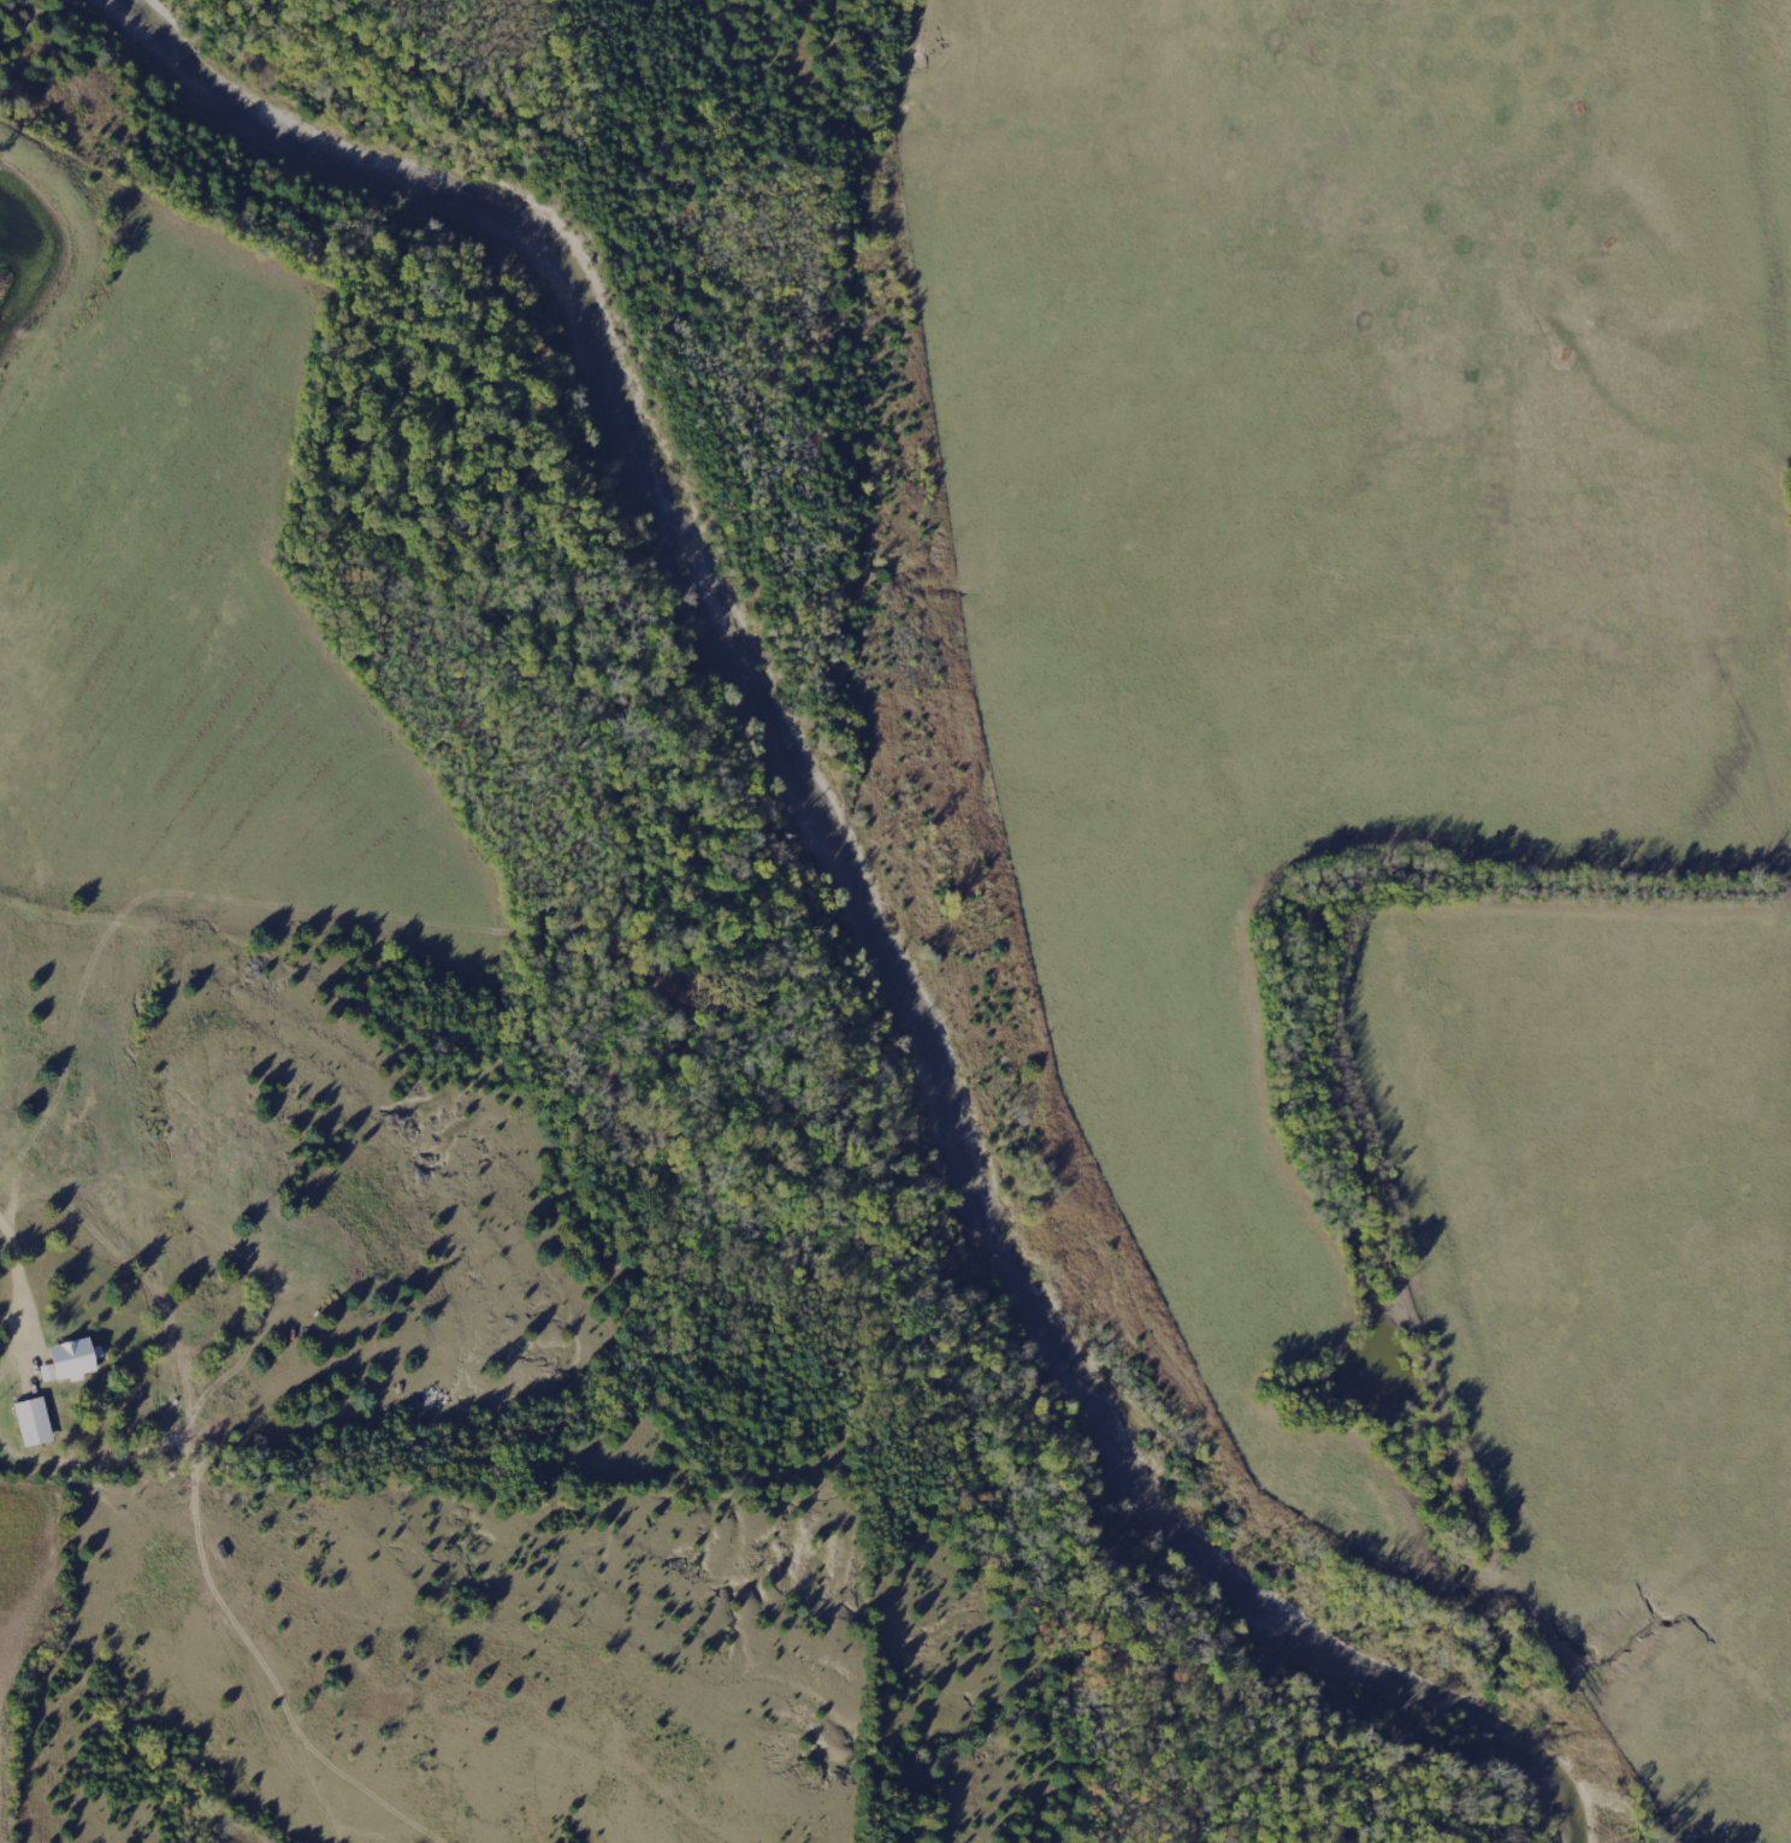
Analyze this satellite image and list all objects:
building: (71, 1363)
building: (35, 1423)

